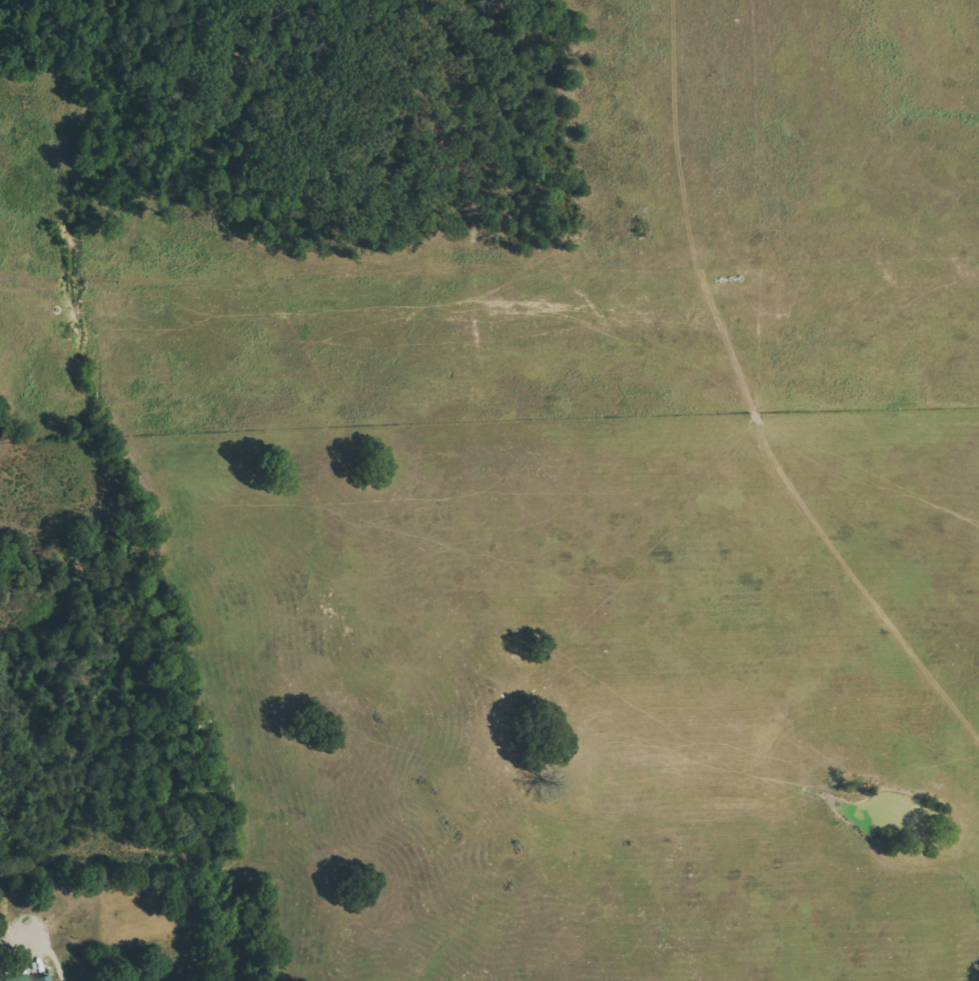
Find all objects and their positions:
road: (41, 951)
building: (42, 978)

